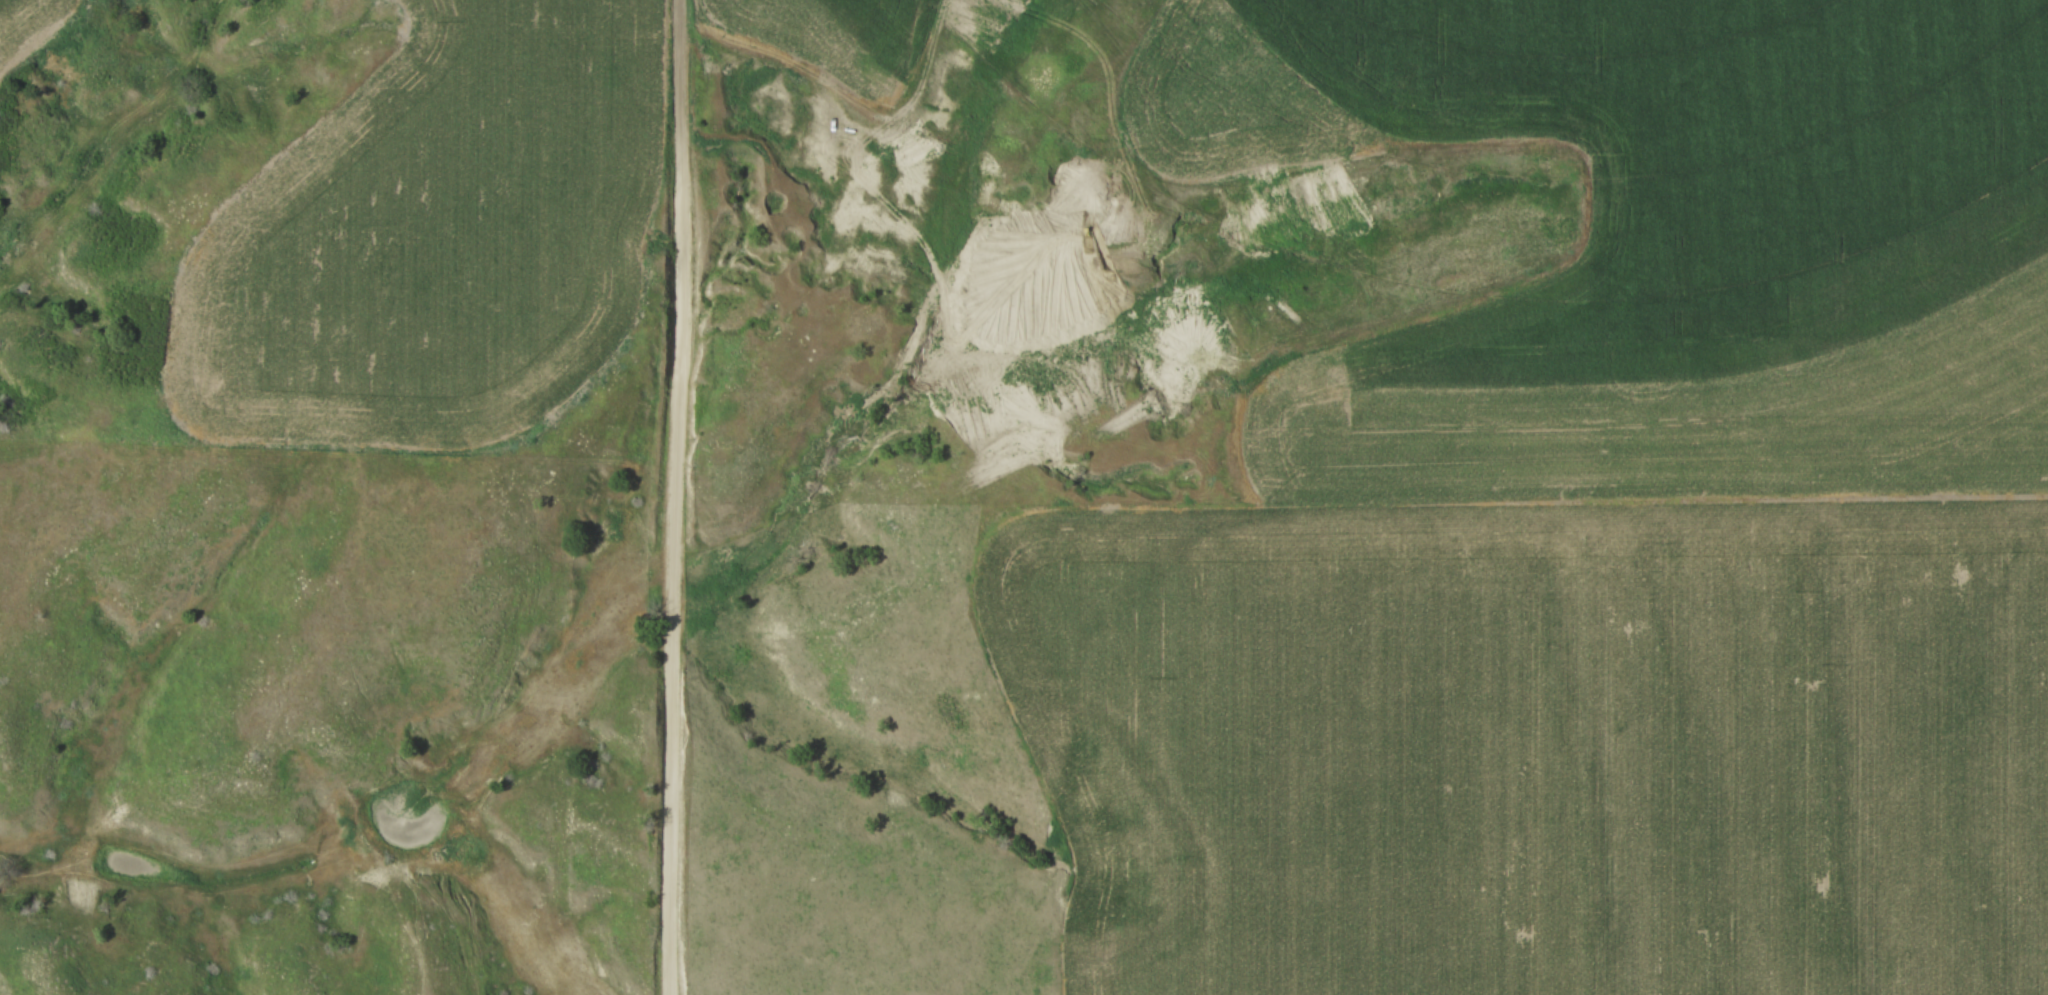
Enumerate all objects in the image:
crop: (21, 24)
crop: (435, 237)
road: (679, 497)

